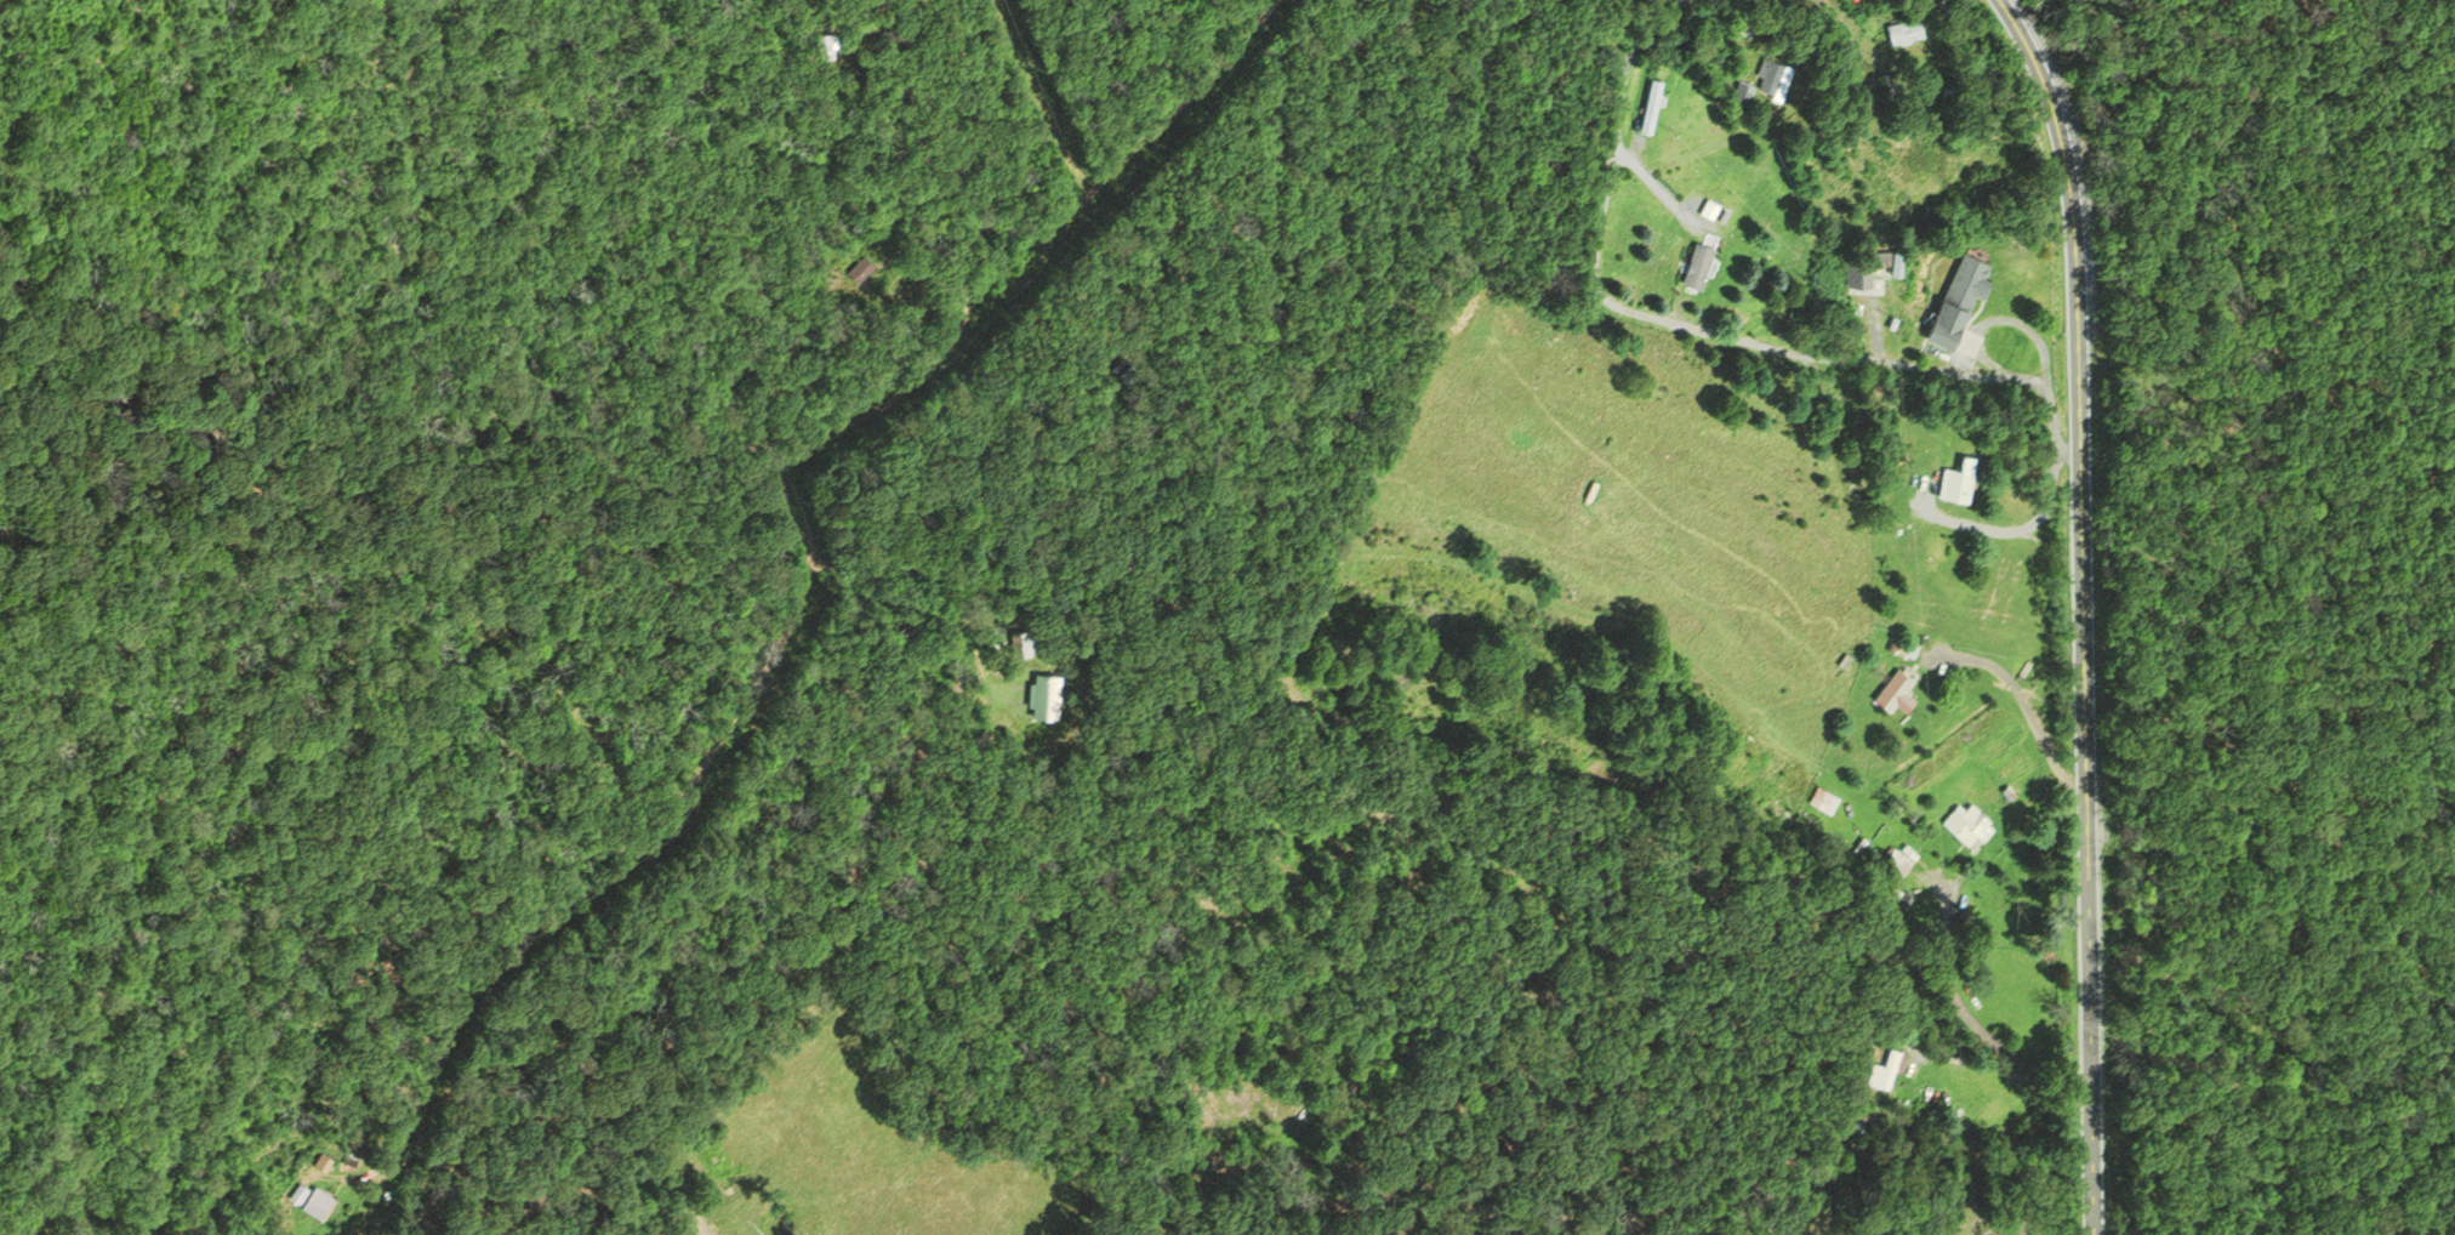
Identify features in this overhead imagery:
building: (1906, 30)
building: (825, 45)
building: (1770, 73)
building: (1744, 90)
road: (1036, 93)
building: (1781, 95)
building: (1652, 103)
road: (1656, 183)
building: (1710, 210)
building: (1698, 264)
building: (864, 268)
building: (1861, 272)
building: (1959, 297)
road: (1705, 330)
building: (1959, 479)
road: (2021, 531)
building: (1937, 551)
road: (805, 582)
road: (2083, 608)
building: (490, 610)
building: (1023, 638)
building: (1897, 689)
building: (1046, 694)
road: (2024, 700)
building: (1825, 799)
building: (1969, 825)
building: (1898, 861)
road: (1965, 1013)
building: (1885, 1069)
building: (317, 1202)

